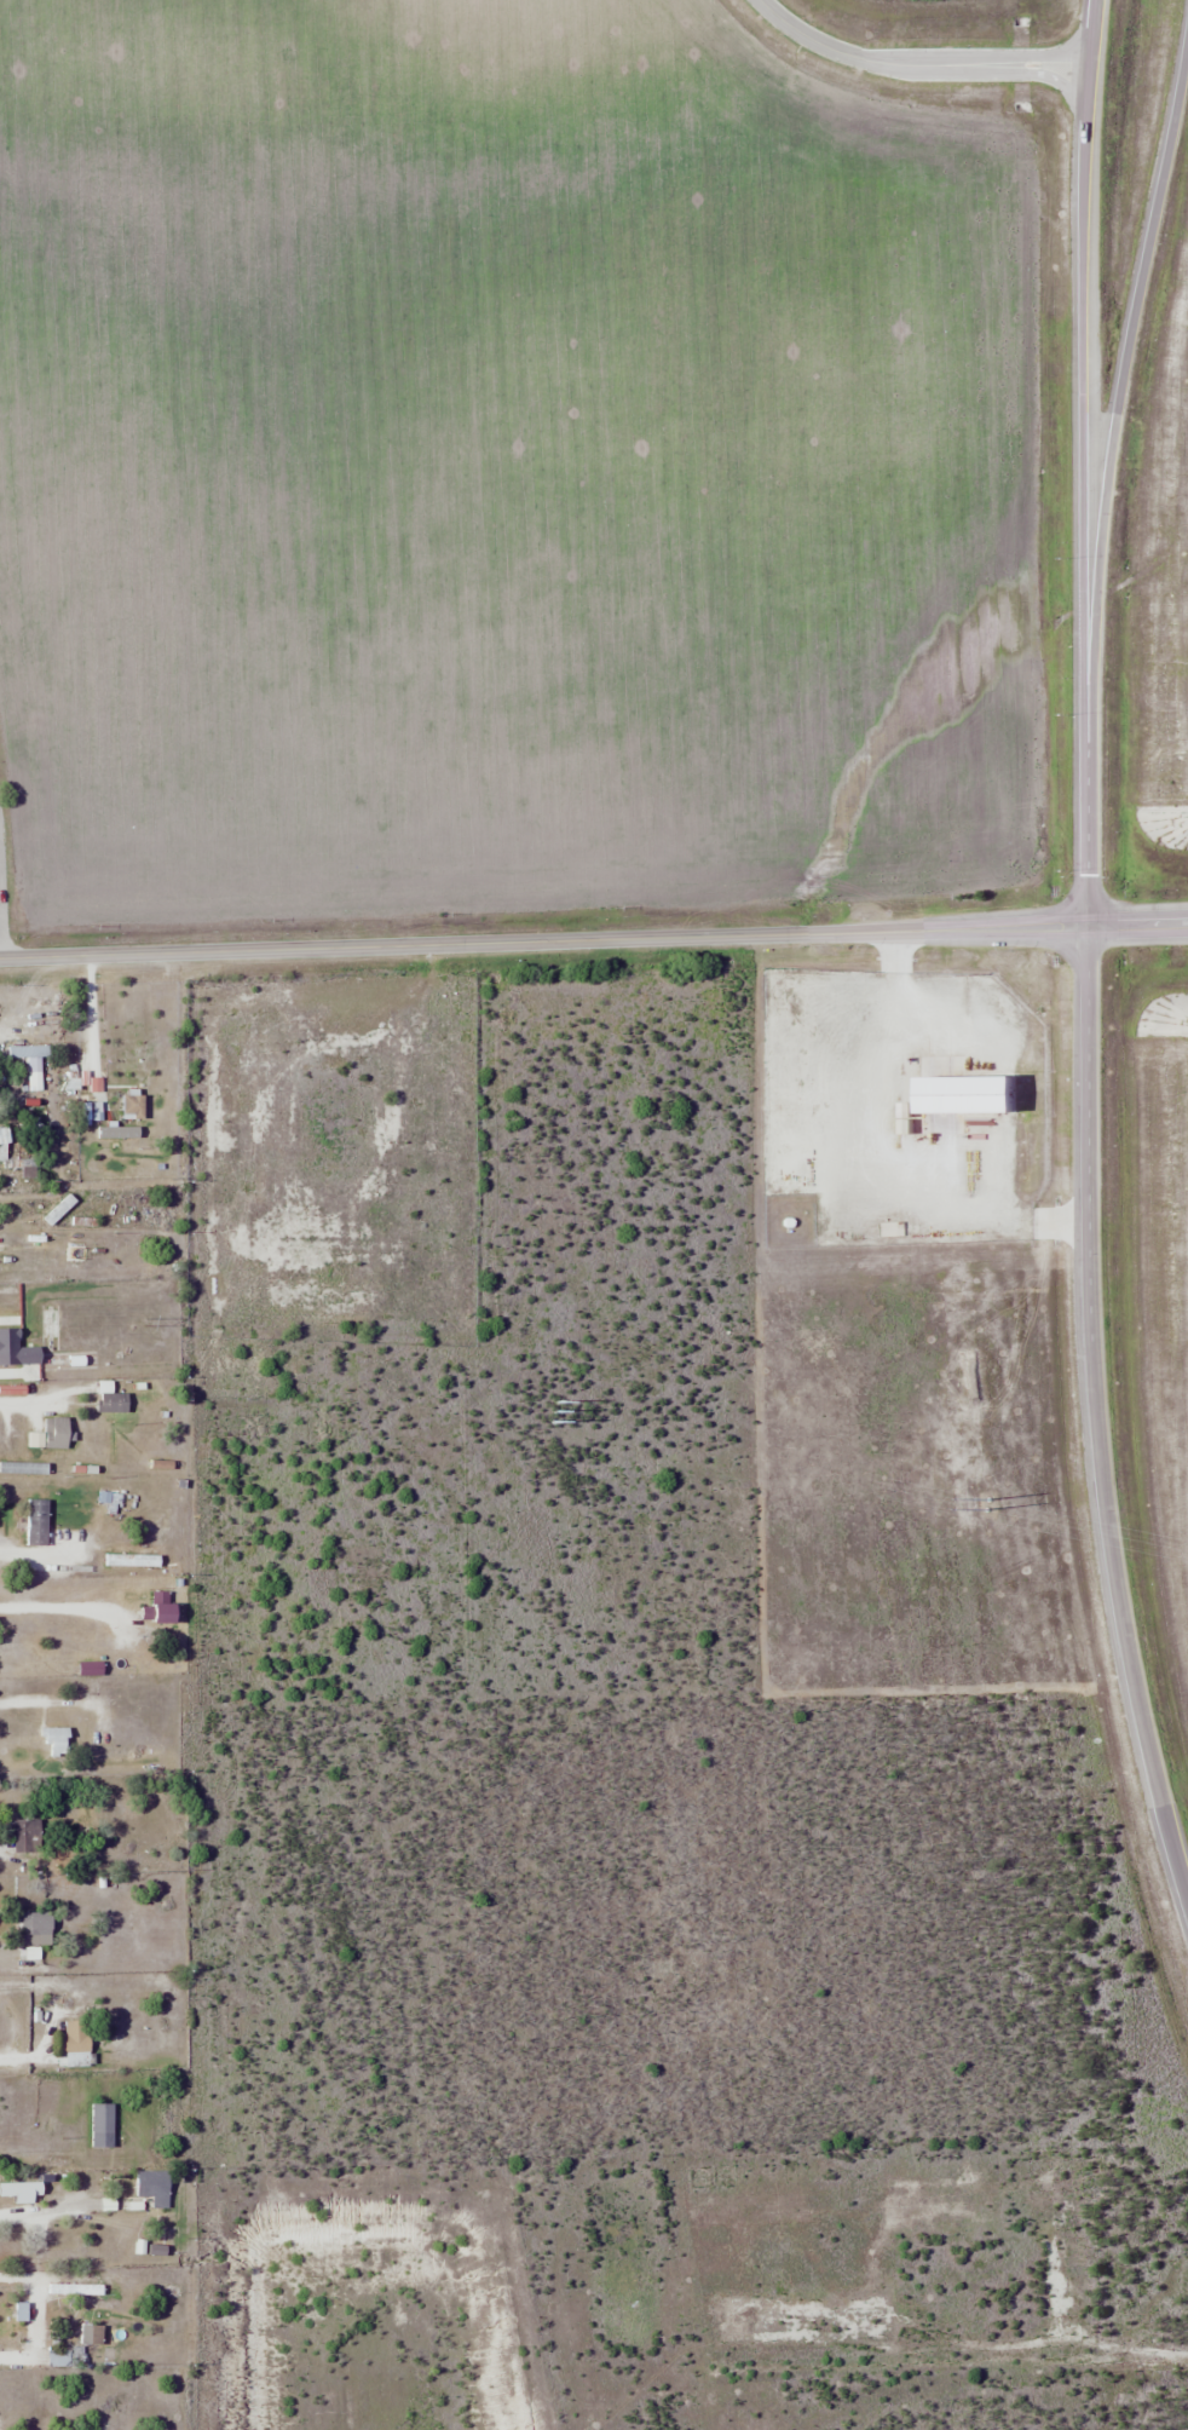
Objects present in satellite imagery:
road: (829, 47)
road: (1000, 57)
road: (1007, 73)
road: (1120, 390)
road: (1082, 462)
road: (593, 940)
building: (5, 1144)
building: (22, 1196)
power tower: (143, 1323)
building: (51, 1324)
building: (77, 1324)
building: (1, 1348)
building: (64, 1357)
building: (110, 1399)
power tower: (555, 1411)
road: (1097, 1420)
building: (57, 1433)
power tower: (987, 1504)
building: (36, 1521)
building: (25, 1835)
building: (35, 1929)
building: (77, 2043)
building: (58, 2255)
building: (38, 2320)
building: (91, 2327)
building: (62, 2356)

